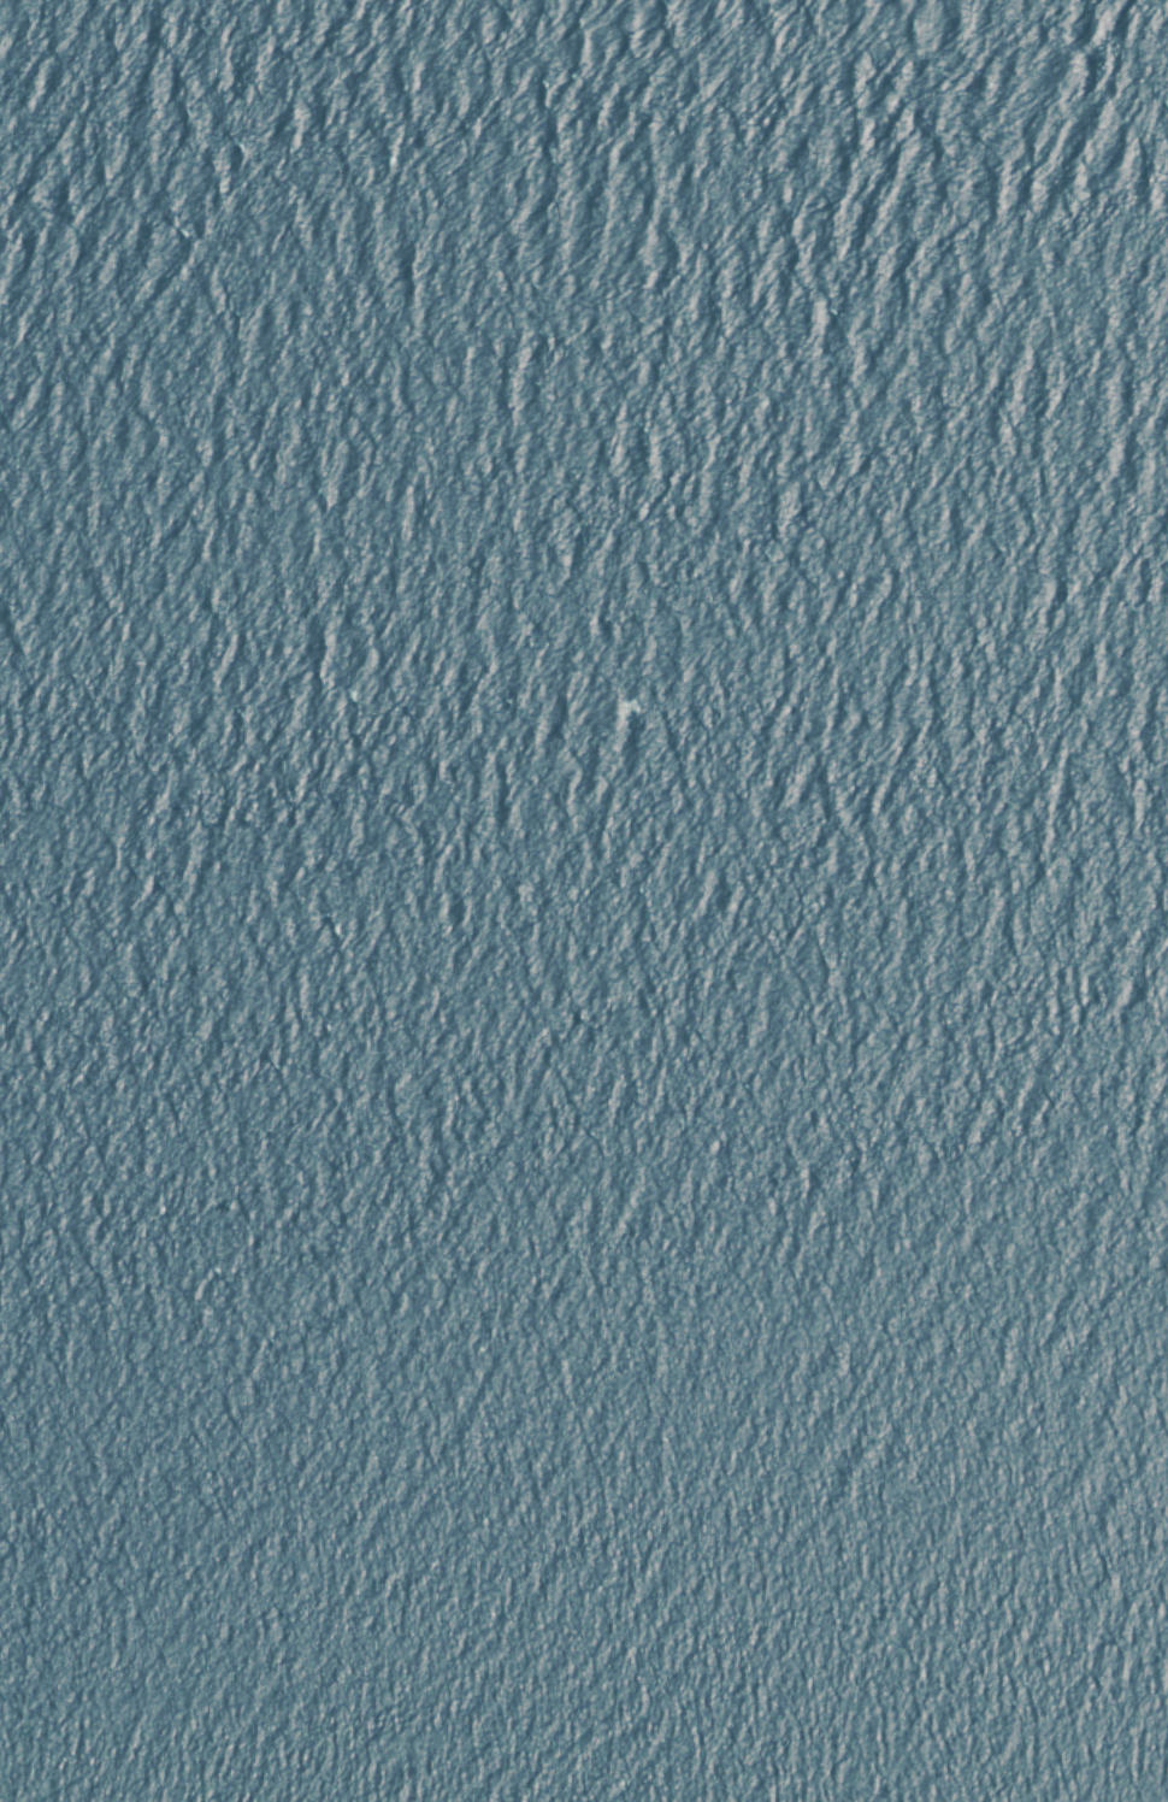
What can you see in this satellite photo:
river: (584, 765)

